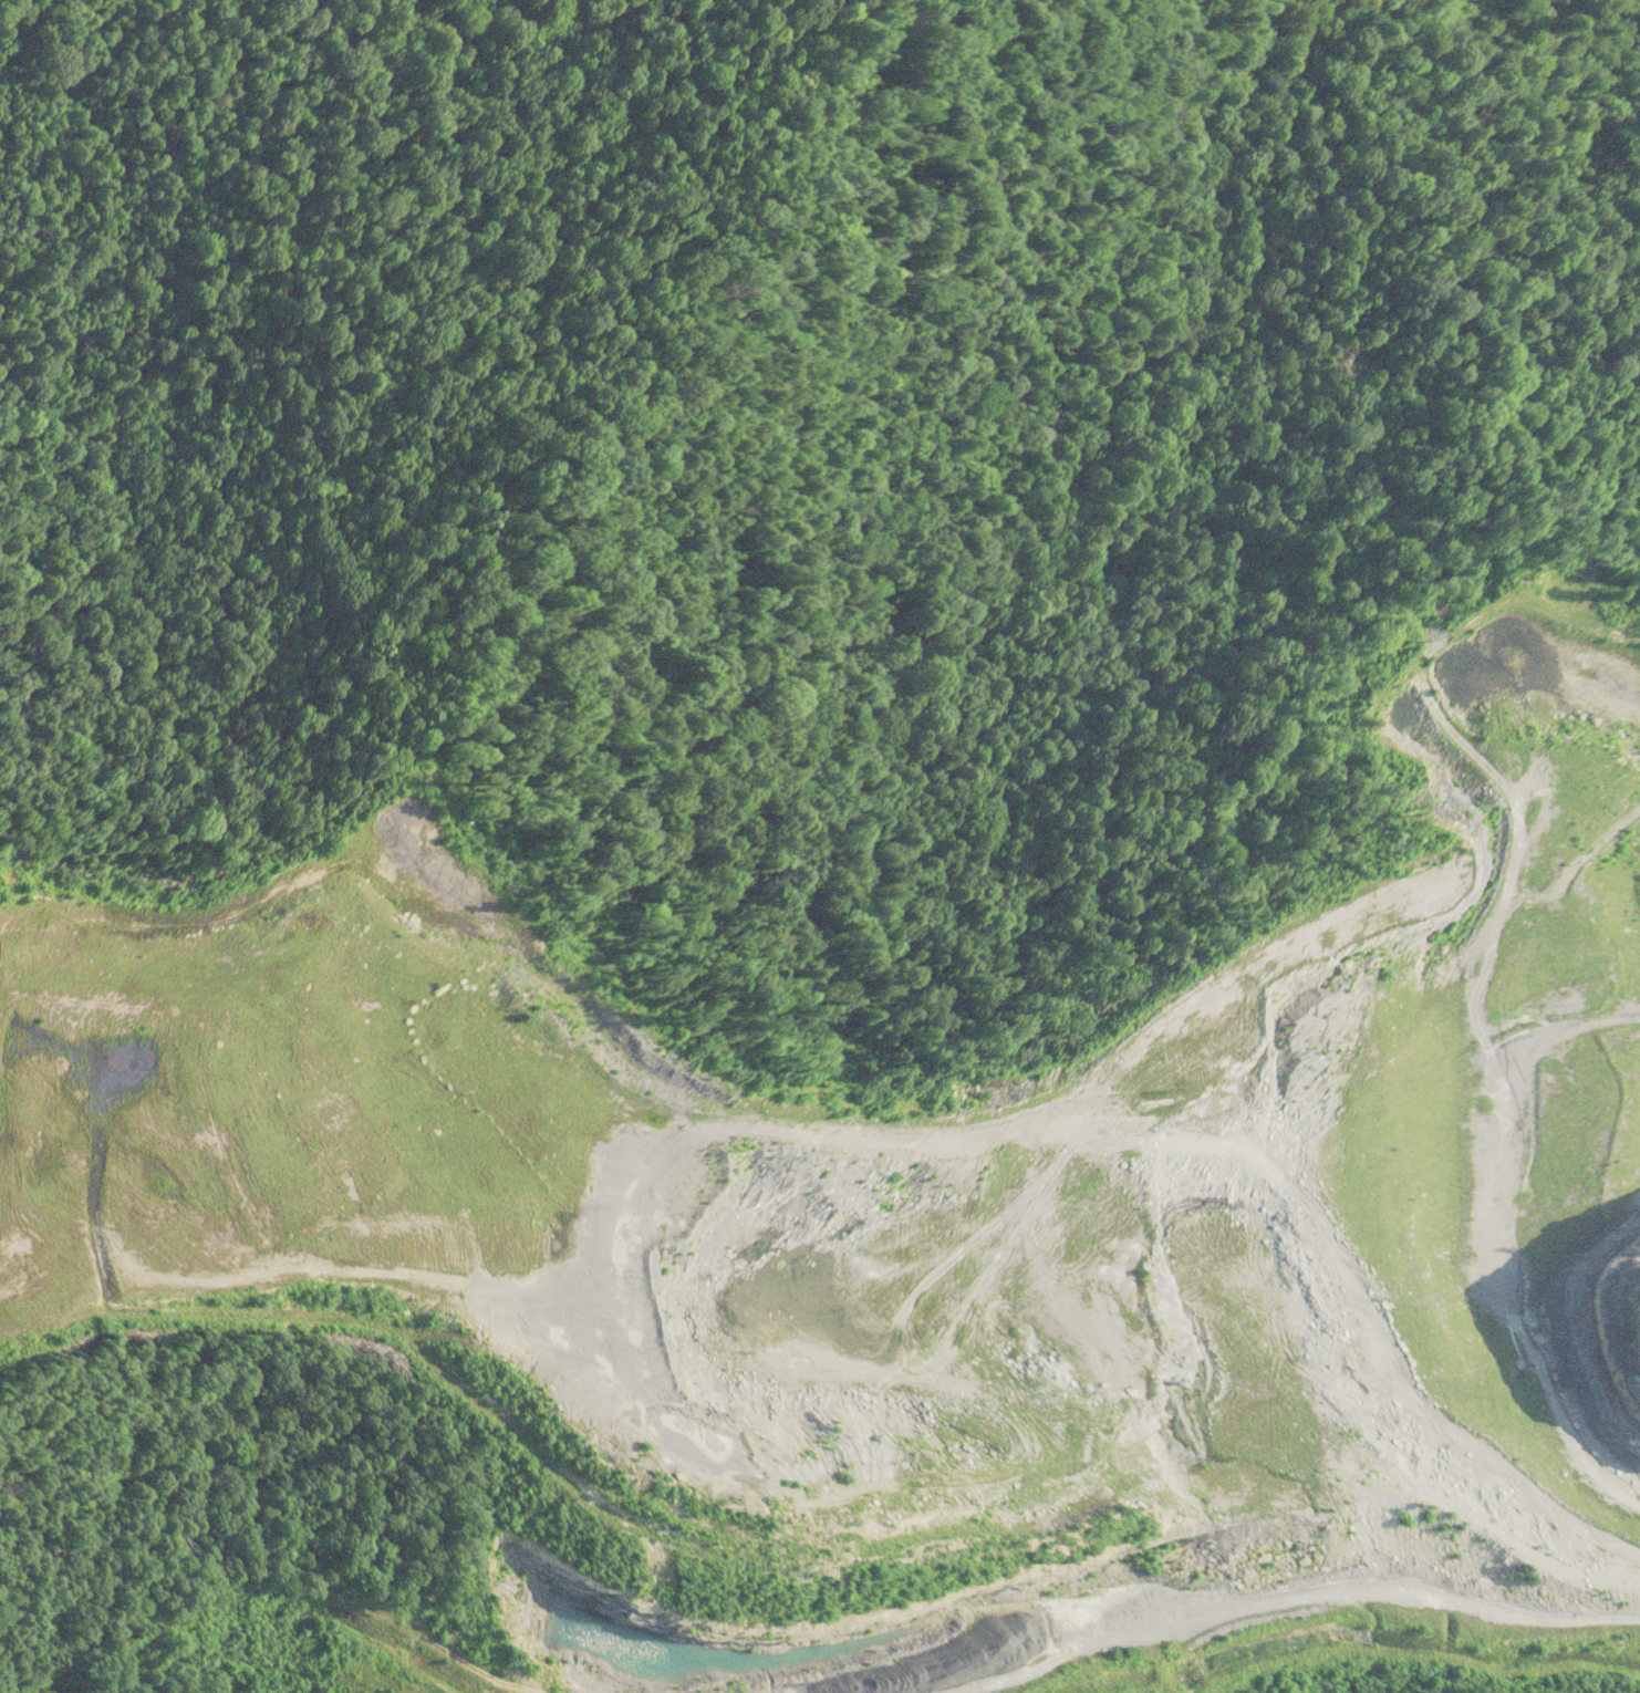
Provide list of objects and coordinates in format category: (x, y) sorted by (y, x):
quarry: (934, 1225)

